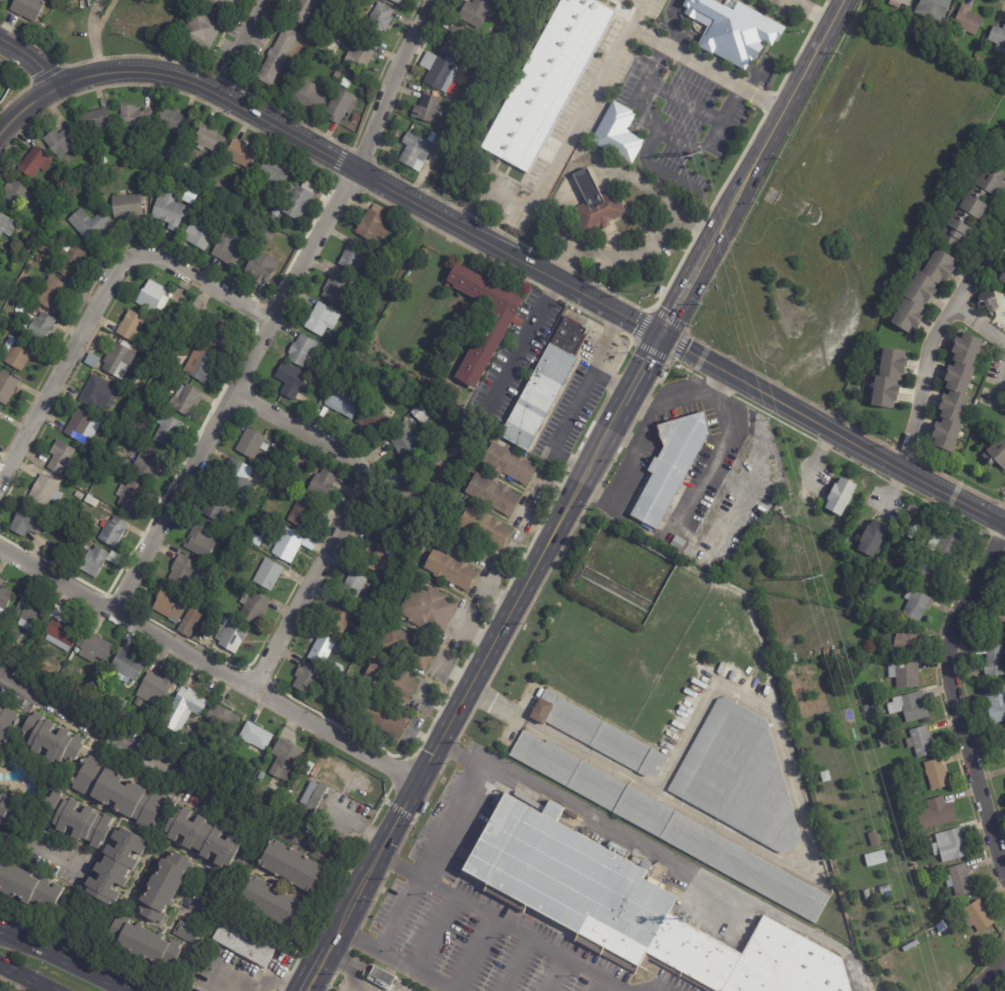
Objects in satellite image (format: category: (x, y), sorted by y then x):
road: (787, 0)
building: (1, 1)
building: (396, 2)
building: (898, 3)
building: (221, 5)
building: (27, 9)
building: (934, 9)
building: (302, 11)
road: (807, 11)
road: (95, 12)
building: (474, 12)
road: (106, 14)
building: (348, 21)
building: (378, 21)
building: (502, 21)
building: (967, 21)
building: (907, 28)
building: (733, 29)
building: (344, 30)
building: (201, 31)
building: (492, 37)
building: (998, 38)
building: (454, 42)
road: (237, 46)
road: (98, 50)
building: (361, 56)
road: (31, 57)
building: (276, 57)
building: (977, 60)
building: (441, 74)
building: (309, 78)
road: (597, 80)
building: (547, 81)
building: (327, 95)
building: (308, 99)
building: (340, 107)
building: (426, 108)
road: (29, 109)
building: (133, 116)
building: (95, 119)
building: (172, 122)
road: (773, 125)
building: (453, 128)
building: (617, 133)
building: (208, 139)
building: (435, 141)
building: (1004, 141)
building: (60, 142)
building: (1002, 150)
building: (415, 152)
building: (240, 154)
power tower: (696, 154)
building: (19, 159)
building: (100, 161)
building: (162, 162)
building: (34, 163)
building: (90, 167)
building: (272, 174)
building: (145, 175)
building: (200, 181)
road: (585, 182)
road: (647, 182)
building: (239, 186)
building: (16, 195)
building: (59, 195)
building: (188, 198)
building: (298, 199)
building: (596, 204)
building: (127, 206)
building: (973, 207)
building: (167, 211)
building: (275, 216)
road: (561, 217)
building: (87, 224)
building: (6, 225)
building: (373, 225)
building: (267, 228)
building: (197, 235)
building: (265, 237)
building: (274, 237)
building: (43, 248)
building: (19, 249)
building: (228, 250)
road: (634, 250)
building: (352, 255)
building: (38, 258)
building: (71, 263)
building: (260, 268)
road: (538, 269)
building: (1000, 276)
building: (366, 277)
building: (274, 282)
building: (340, 289)
building: (1004, 289)
building: (923, 291)
building: (174, 292)
road: (682, 293)
building: (52, 294)
building: (151, 297)
building: (987, 301)
road: (103, 302)
road: (280, 309)
building: (192, 316)
building: (176, 318)
building: (321, 319)
building: (497, 325)
road: (977, 325)
building: (11, 326)
building: (130, 326)
building: (464, 328)
building: (40, 329)
building: (214, 330)
road: (932, 335)
traffic signals: (659, 337)
road: (524, 340)
building: (301, 351)
building: (19, 353)
building: (91, 360)
building: (117, 361)
building: (146, 362)
building: (199, 366)
road: (641, 370)
building: (889, 379)
building: (289, 380)
road: (1000, 384)
building: (545, 385)
road: (717, 386)
building: (7, 387)
building: (451, 390)
building: (956, 392)
building: (96, 394)
building: (394, 395)
road: (580, 398)
building: (183, 399)
building: (342, 401)
road: (642, 405)
building: (419, 415)
building: (369, 419)
building: (132, 425)
building: (83, 427)
building: (167, 430)
road: (625, 439)
building: (250, 444)
building: (402, 445)
road: (601, 445)
road: (641, 446)
road: (717, 449)
building: (452, 453)
building: (996, 454)
building: (104, 456)
building: (113, 456)
building: (59, 458)
building: (434, 458)
building: (147, 464)
building: (508, 464)
building: (671, 466)
building: (132, 470)
building: (232, 474)
building: (142, 482)
building: (320, 485)
building: (401, 487)
building: (42, 492)
building: (491, 494)
building: (840, 495)
building: (129, 496)
building: (782, 502)
building: (319, 504)
building: (216, 507)
building: (914, 508)
road: (1000, 511)
building: (300, 514)
building: (908, 516)
road: (345, 517)
building: (25, 522)
building: (387, 527)
building: (483, 528)
building: (901, 530)
building: (111, 531)
building: (872, 537)
building: (945, 539)
building: (255, 541)
building: (199, 542)
building: (290, 546)
building: (47, 550)
building: (372, 556)
building: (96, 560)
building: (449, 570)
building: (186, 572)
building: (931, 572)
building: (267, 575)
building: (207, 577)
power tower: (816, 579)
building: (352, 586)
building: (385, 586)
building: (4, 597)
building: (170, 604)
building: (915, 604)
building: (252, 609)
building: (427, 609)
building: (29, 613)
building: (999, 615)
building: (191, 620)
building: (338, 620)
building: (60, 629)
road: (476, 635)
building: (230, 636)
building: (907, 640)
building: (93, 647)
building: (407, 649)
building: (320, 650)
building: (992, 657)
building: (126, 666)
road: (210, 666)
road: (456, 673)
building: (904, 673)
building: (305, 679)
building: (390, 681)
building: (154, 688)
building: (211, 688)
building: (208, 695)
building: (769, 696)
building: (878, 696)
road: (957, 700)
building: (120, 703)
building: (137, 703)
road: (440, 704)
building: (996, 704)
building: (875, 705)
building: (910, 705)
building: (182, 708)
building: (867, 709)
road: (461, 710)
building: (221, 717)
building: (381, 718)
building: (7, 724)
building: (598, 734)
building: (171, 736)
building: (256, 736)
building: (50, 739)
road: (425, 739)
building: (1003, 739)
building: (883, 740)
building: (921, 742)
building: (282, 759)
road: (187, 766)
building: (317, 772)
building: (936, 773)
building: (261, 776)
building: (740, 777)
building: (273, 785)
building: (118, 792)
building: (313, 795)
building: (288, 797)
building: (7, 808)
building: (936, 813)
building: (74, 819)
road: (459, 823)
building: (670, 826)
building: (203, 838)
building: (874, 838)
building: (950, 844)
road: (664, 853)
road: (42, 854)
building: (876, 858)
road: (780, 860)
building: (289, 865)
building: (114, 866)
building: (573, 879)
building: (959, 879)
building: (29, 888)
building: (165, 888)
building: (884, 889)
building: (874, 891)
building: (867, 894)
building: (269, 901)
building: (978, 916)
road: (504, 923)
building: (185, 932)
building: (142, 942)
building: (245, 942)
road: (336, 942)
road: (476, 955)
road: (58, 961)
road: (394, 962)
road: (354, 967)
road: (992, 970)
road: (320, 971)
building: (382, 978)
road: (998, 978)
road: (22, 979)
road: (249, 984)

